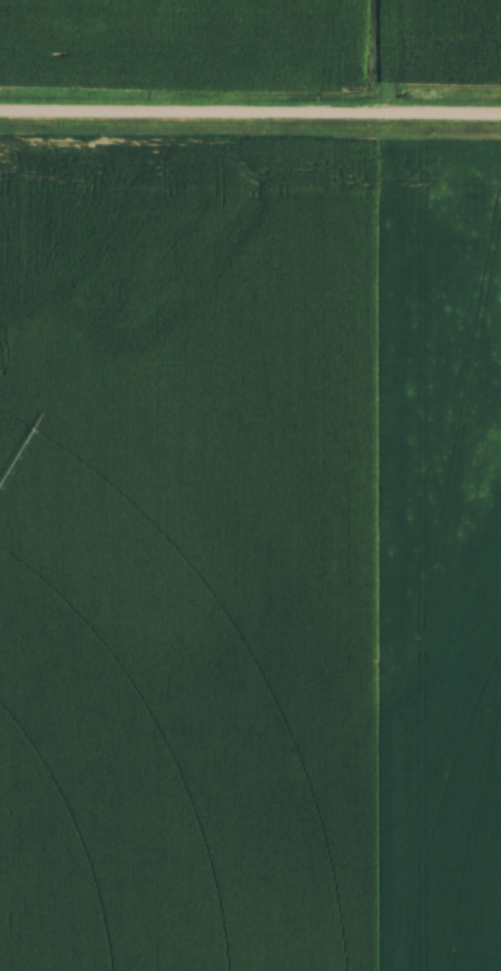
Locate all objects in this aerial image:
road: (250, 116)

